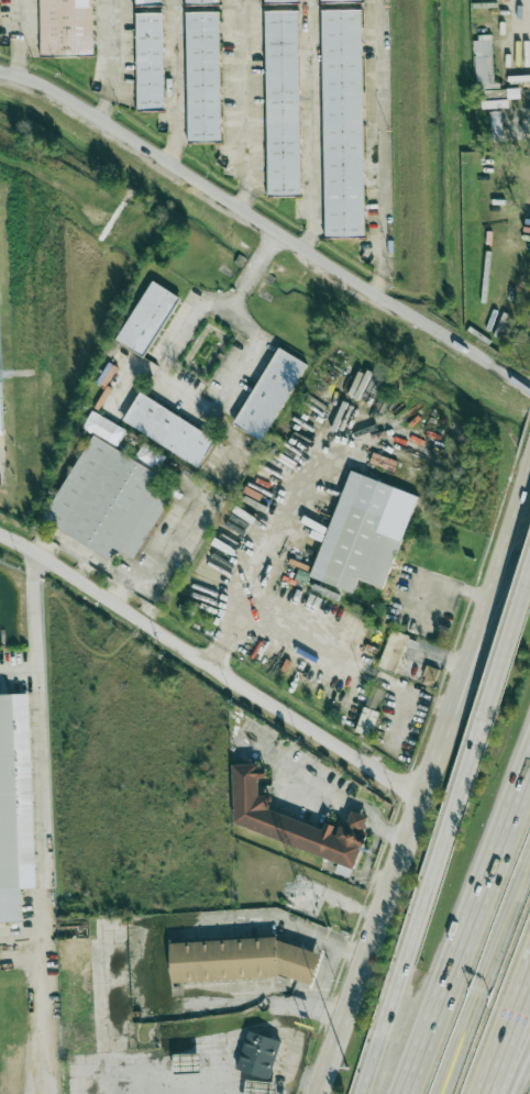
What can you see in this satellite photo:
building: (276, 0)
building: (148, 1)
building: (202, 1)
building: (340, 1)
building: (67, 26)
road: (32, 36)
building: (151, 59)
building: (483, 59)
road: (112, 60)
building: (205, 76)
road: (184, 85)
building: (284, 100)
road: (247, 103)
building: (345, 122)
road: (316, 126)
road: (385, 148)
road: (267, 218)
road: (263, 267)
building: (146, 318)
road: (141, 375)
building: (1, 390)
building: (269, 393)
building: (103, 428)
building: (168, 428)
building: (108, 500)
building: (363, 533)
road: (512, 545)
road: (512, 568)
road: (328, 645)
building: (393, 651)
road: (213, 666)
road: (508, 666)
road: (15, 670)
building: (431, 674)
building: (371, 710)
road: (33, 752)
road: (325, 785)
building: (18, 800)
building: (290, 822)
road: (409, 848)
road: (517, 895)
road: (353, 906)
road: (423, 913)
road: (463, 925)
road: (154, 952)
building: (242, 959)
road: (329, 975)
road: (40, 1004)
road: (468, 1012)
road: (474, 1012)
road: (514, 1051)
building: (258, 1054)
road: (519, 1070)
road: (292, 1074)
road: (41, 1093)

